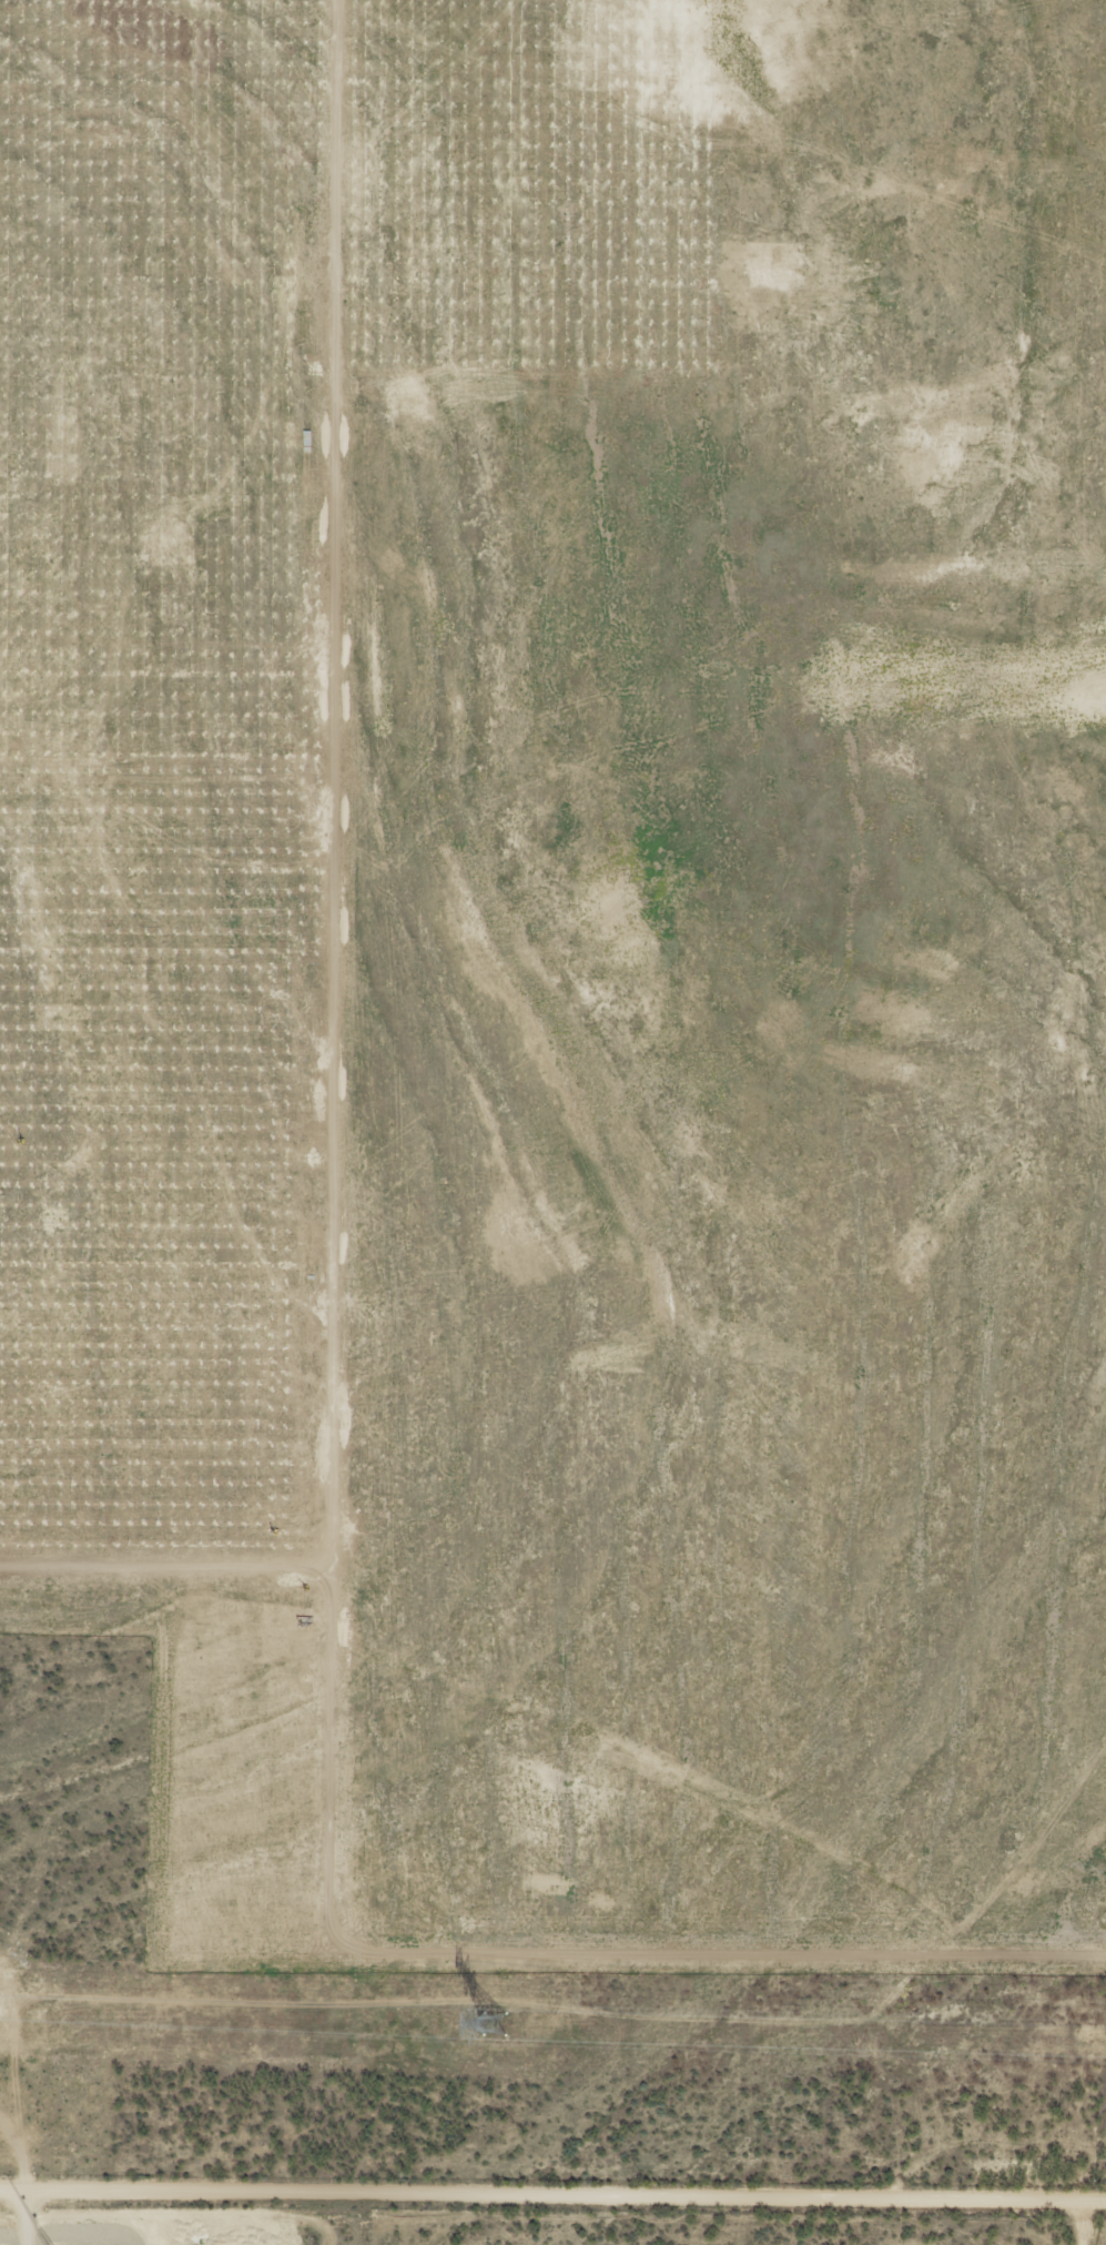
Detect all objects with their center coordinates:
power tower: (493, 2024)
road: (552, 2196)
road: (1078, 2222)

